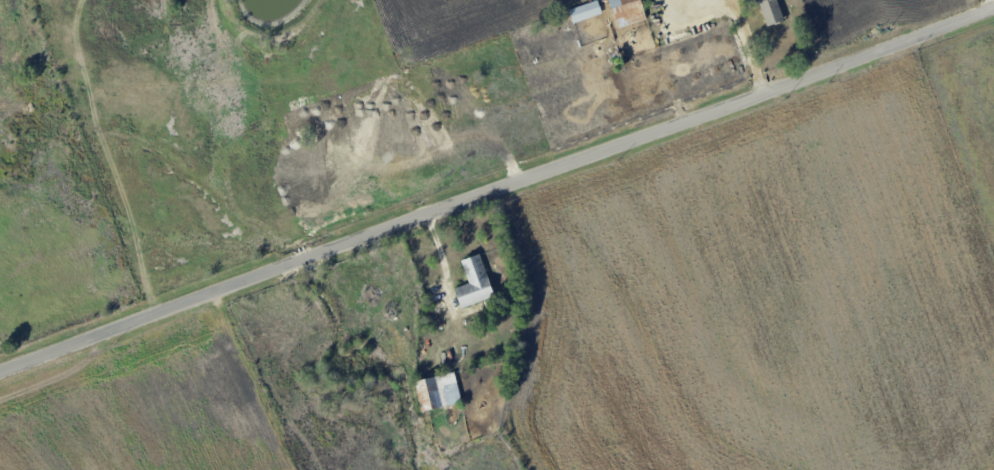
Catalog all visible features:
building: (586, 11)
building: (772, 11)
road: (734, 17)
road: (496, 190)
road: (442, 261)
building: (475, 283)
building: (439, 392)

